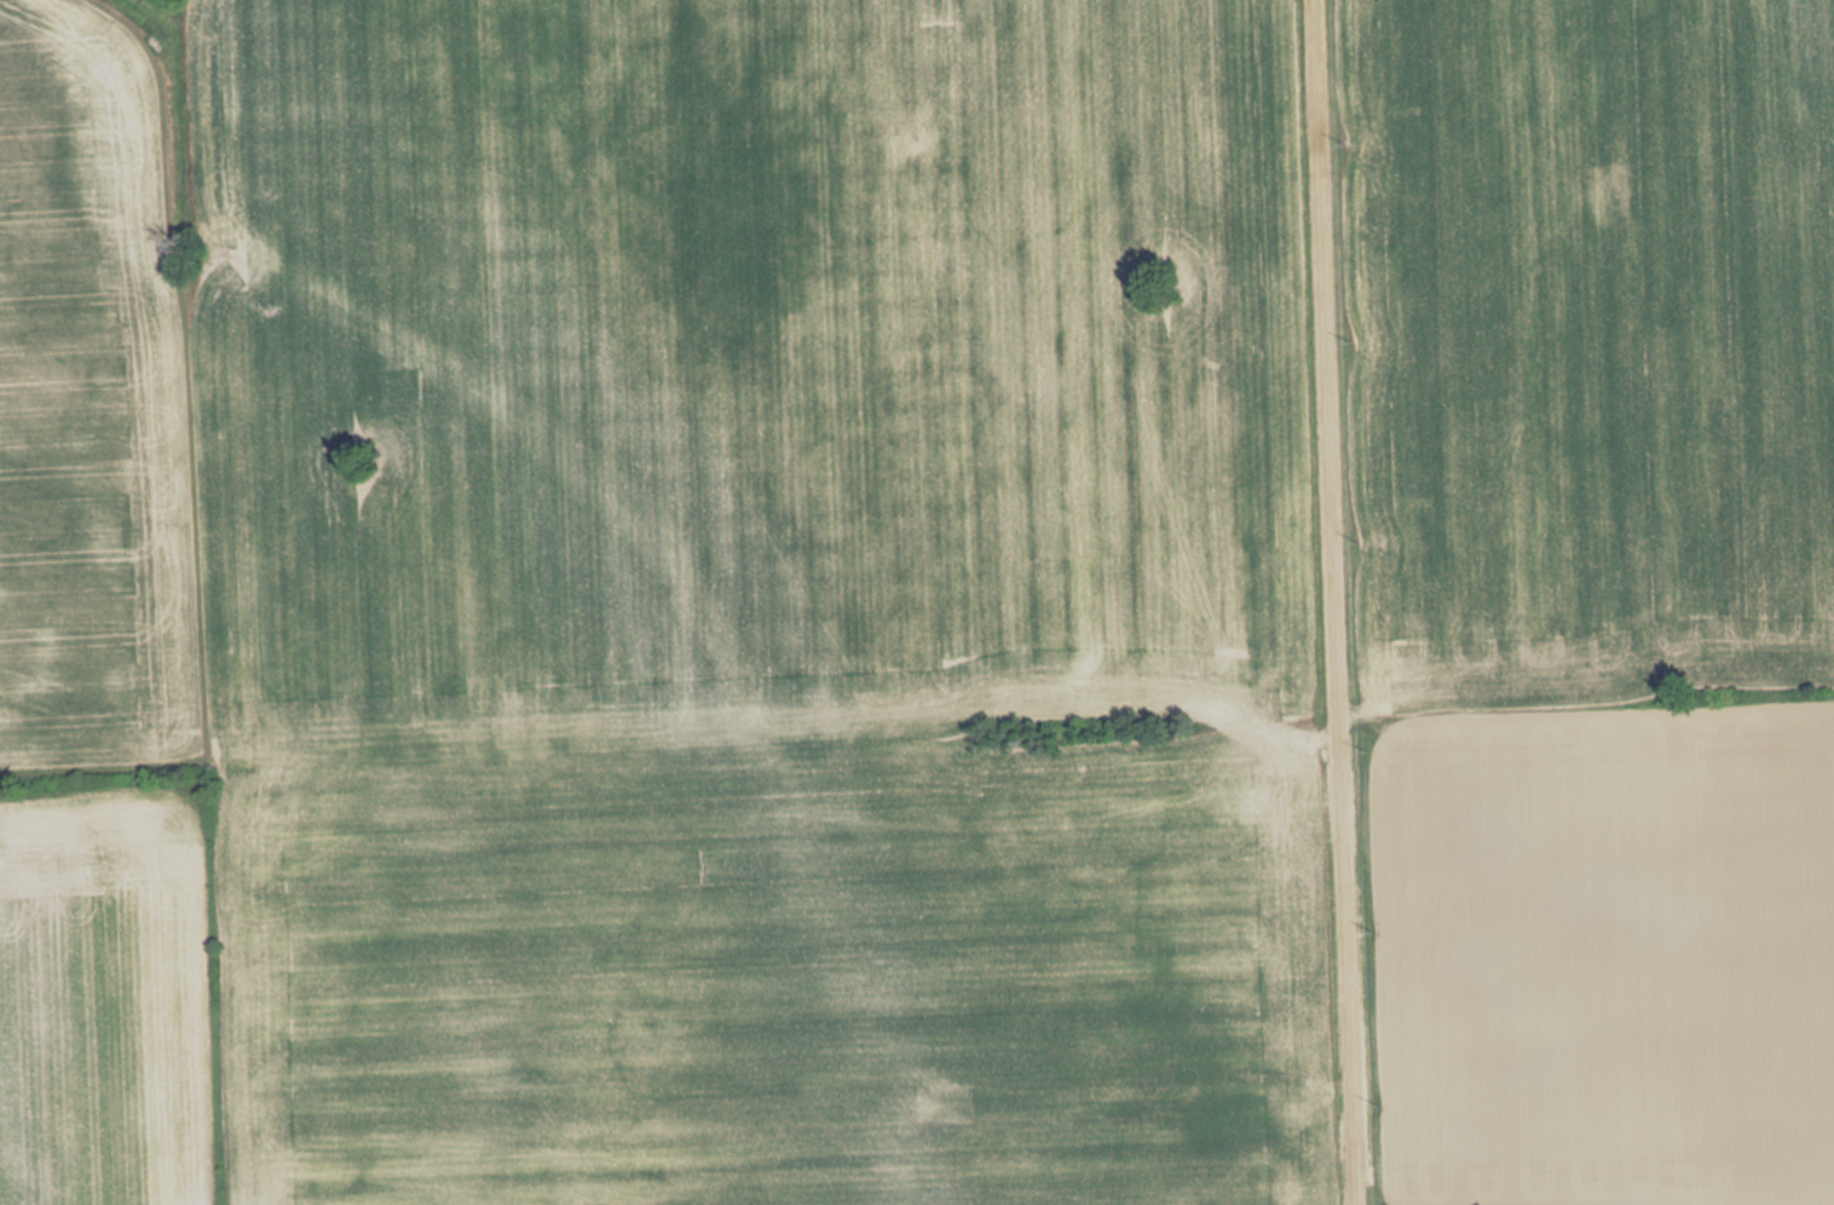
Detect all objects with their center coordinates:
road: (1333, 602)

